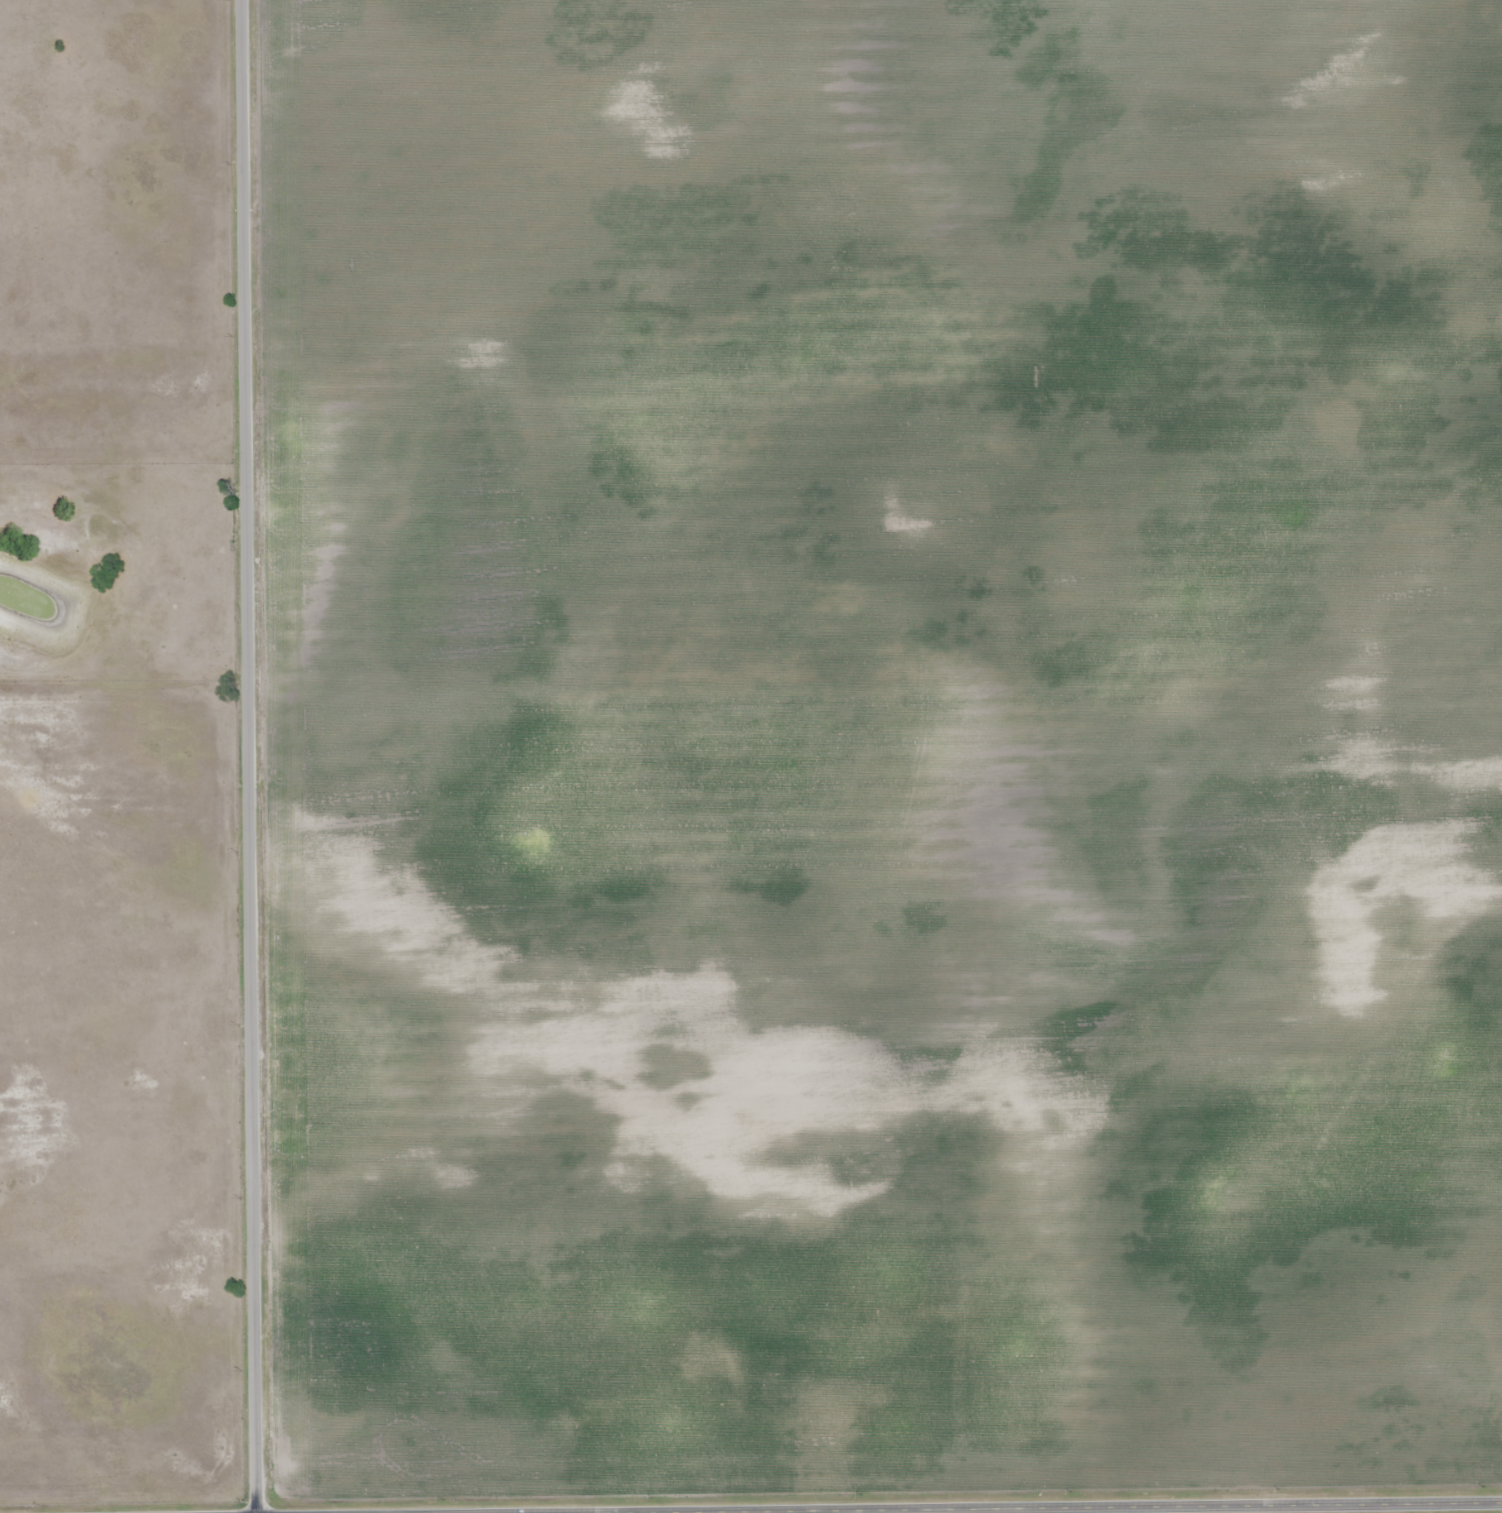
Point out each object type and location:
road: (250, 756)
road: (1137, 1508)

